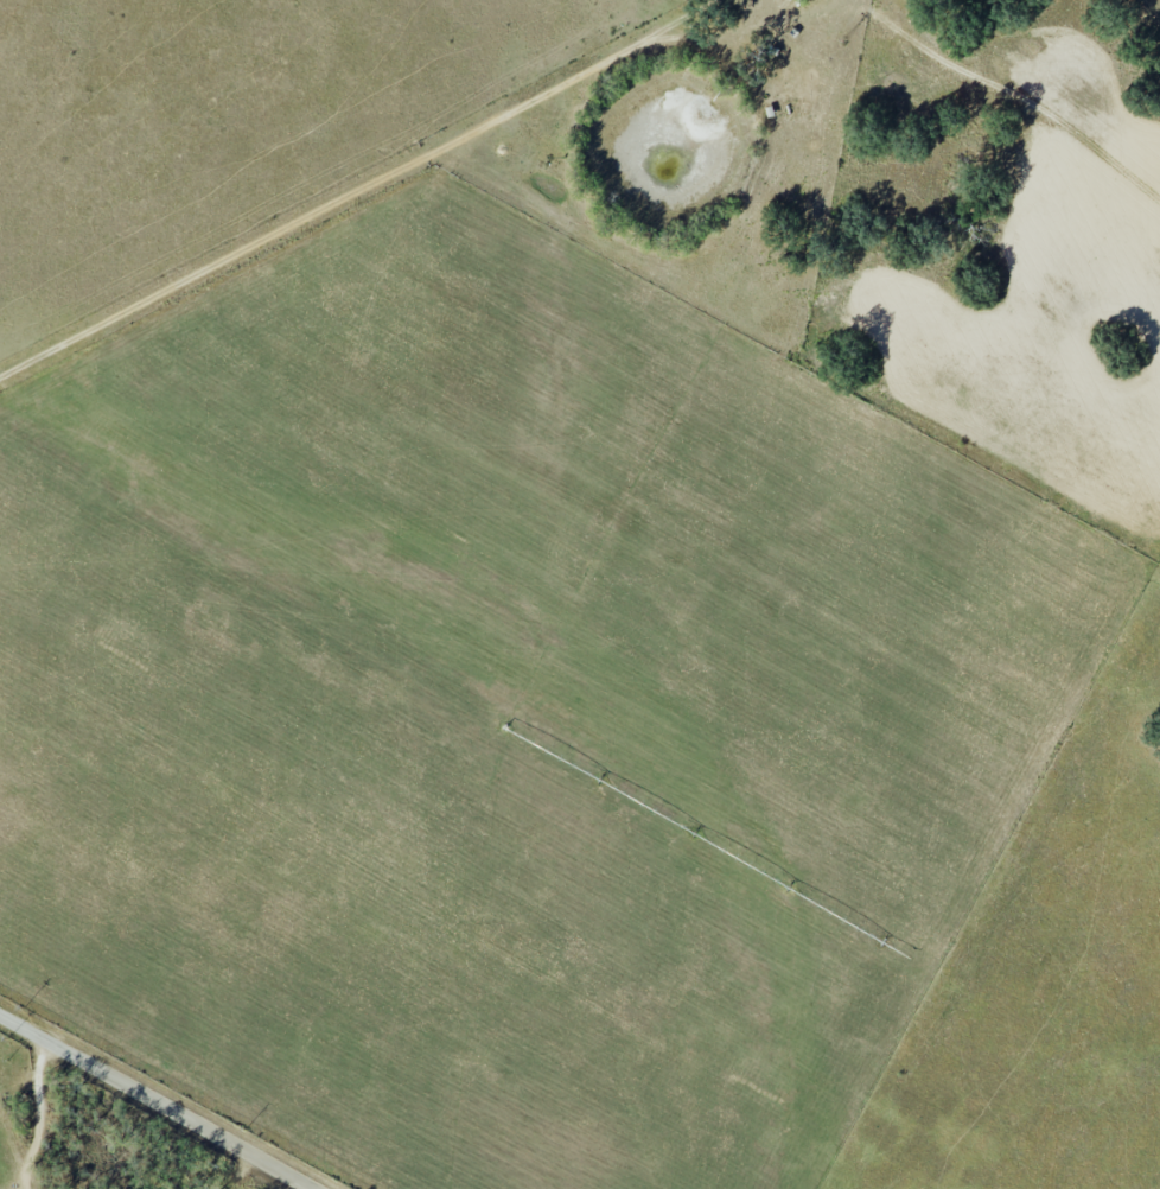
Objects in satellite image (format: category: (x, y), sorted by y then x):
road: (155, 1102)
road: (38, 1114)

